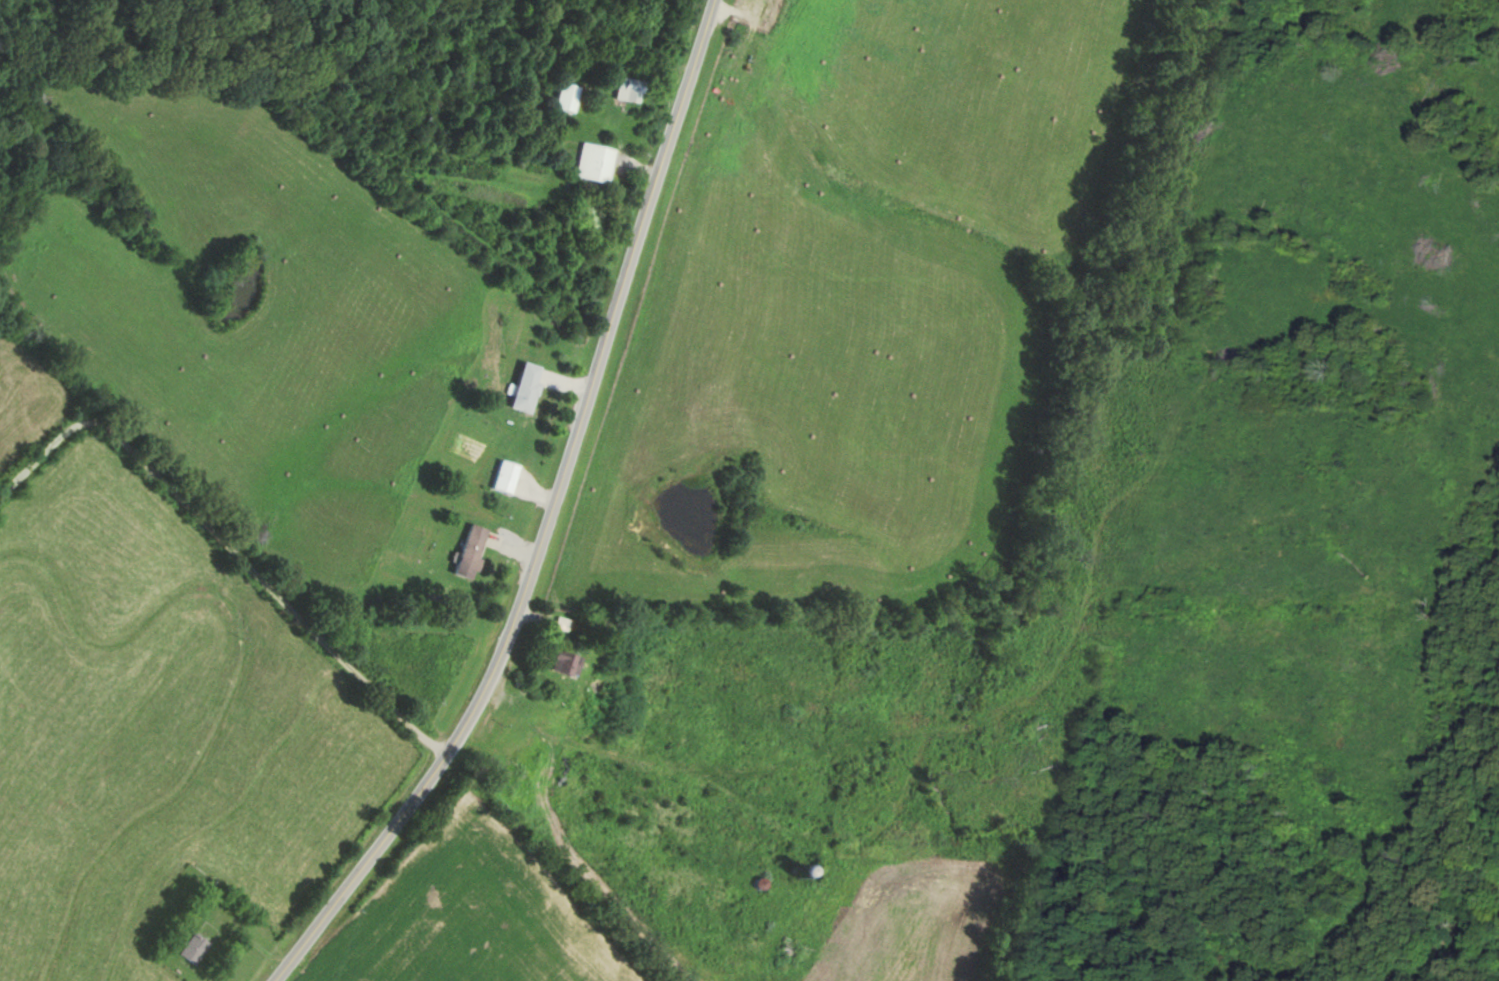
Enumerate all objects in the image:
building: (633, 89)
building: (570, 97)
building: (599, 162)
building: (529, 387)
building: (509, 476)
road: (552, 518)
road: (232, 540)
building: (474, 550)
building: (571, 661)
building: (197, 948)

